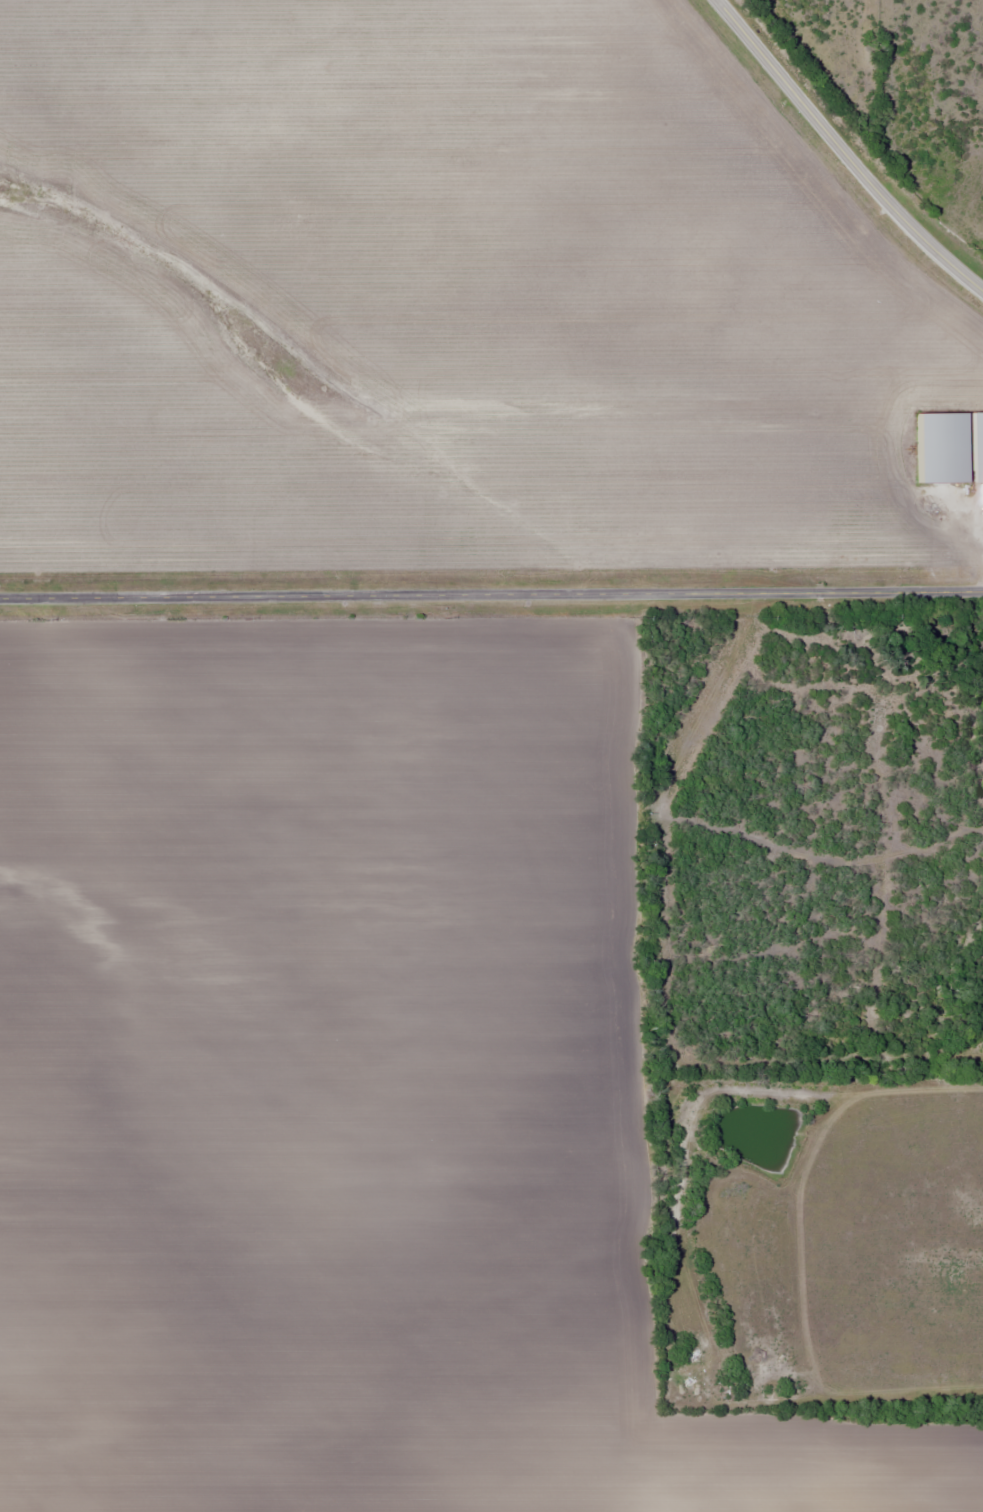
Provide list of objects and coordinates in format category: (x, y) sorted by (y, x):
road: (842, 152)
building: (978, 446)
road: (491, 595)

